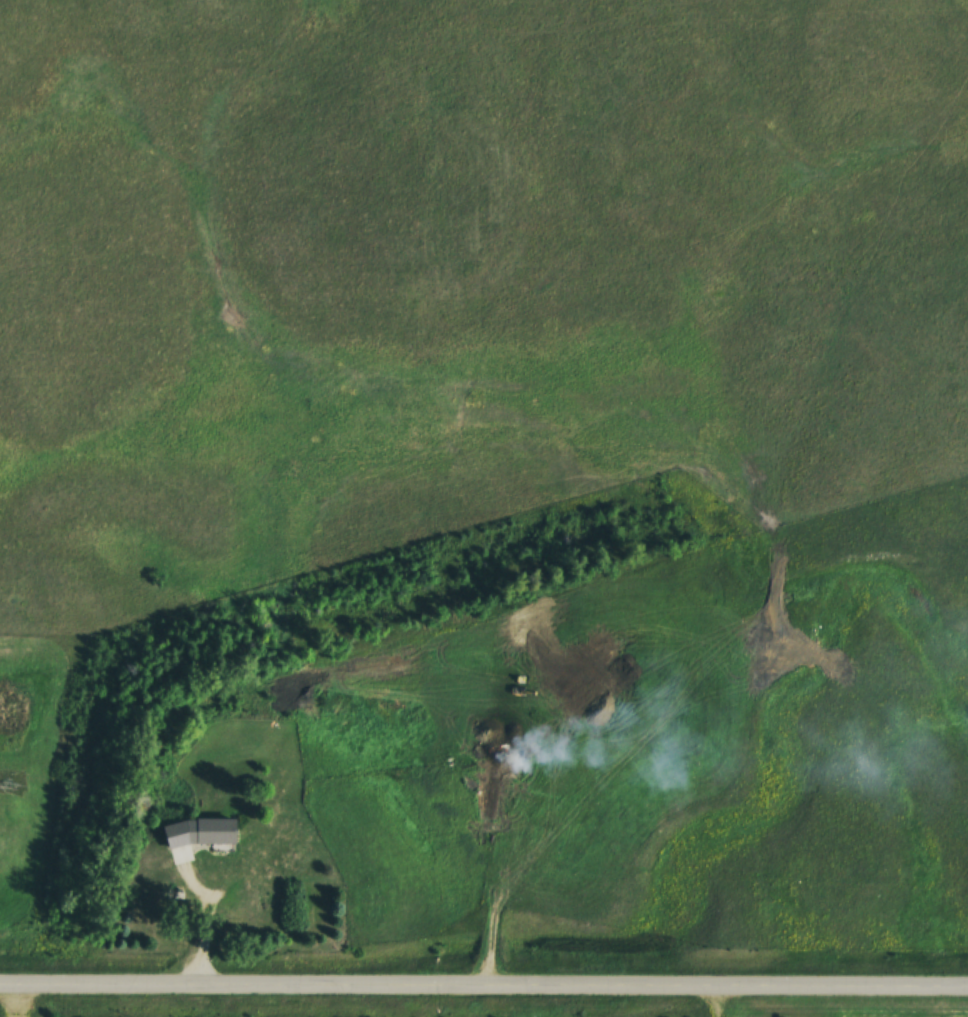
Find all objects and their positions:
building: (490, 781)
building: (198, 831)
building: (163, 890)
road: (483, 992)

